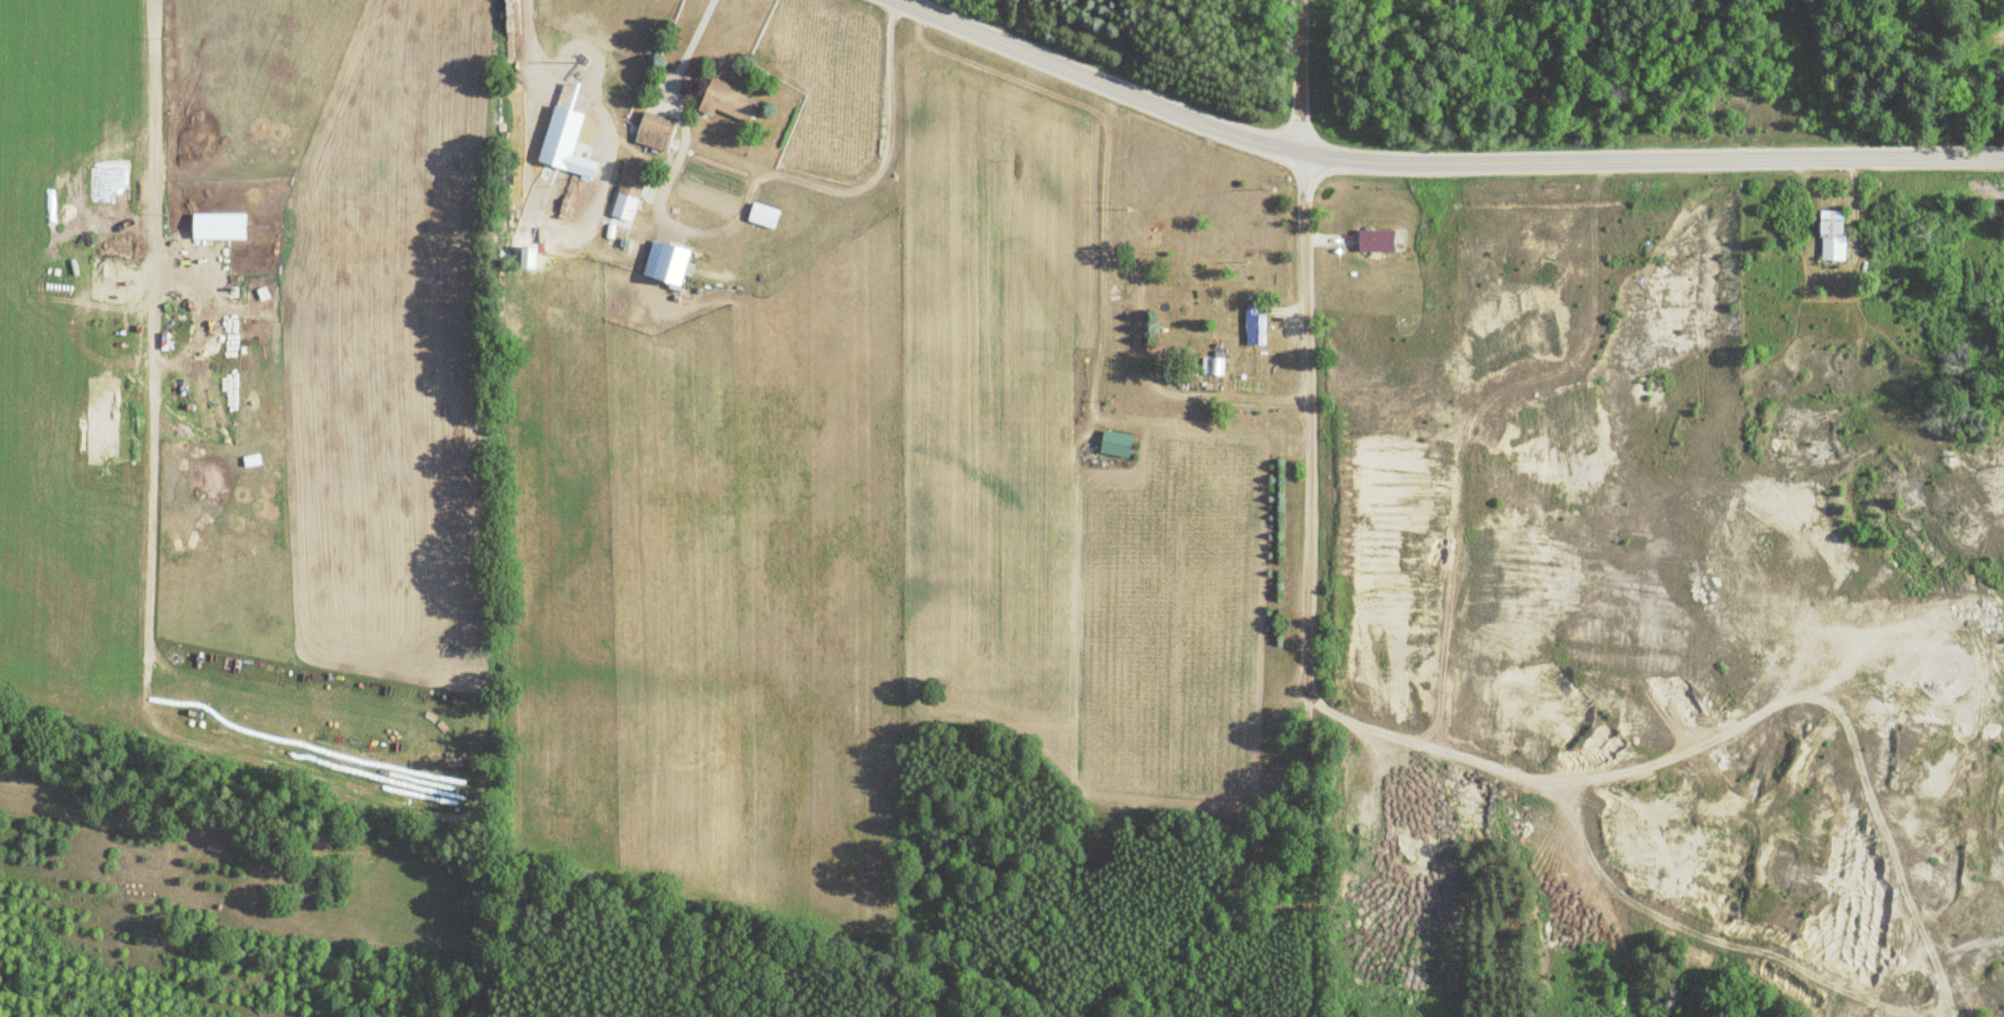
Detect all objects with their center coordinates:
road: (1298, 52)
building: (728, 101)
building: (655, 131)
road: (1298, 151)
road: (1443, 160)
building: (631, 182)
road: (742, 206)
building: (1833, 234)
building: (1376, 240)
building: (1254, 327)
building: (1215, 367)
road: (1474, 424)
building: (1116, 444)
road: (1309, 445)
quarry: (1662, 612)
road: (1374, 727)
road: (1664, 754)
road: (1515, 786)
road: (1306, 855)

